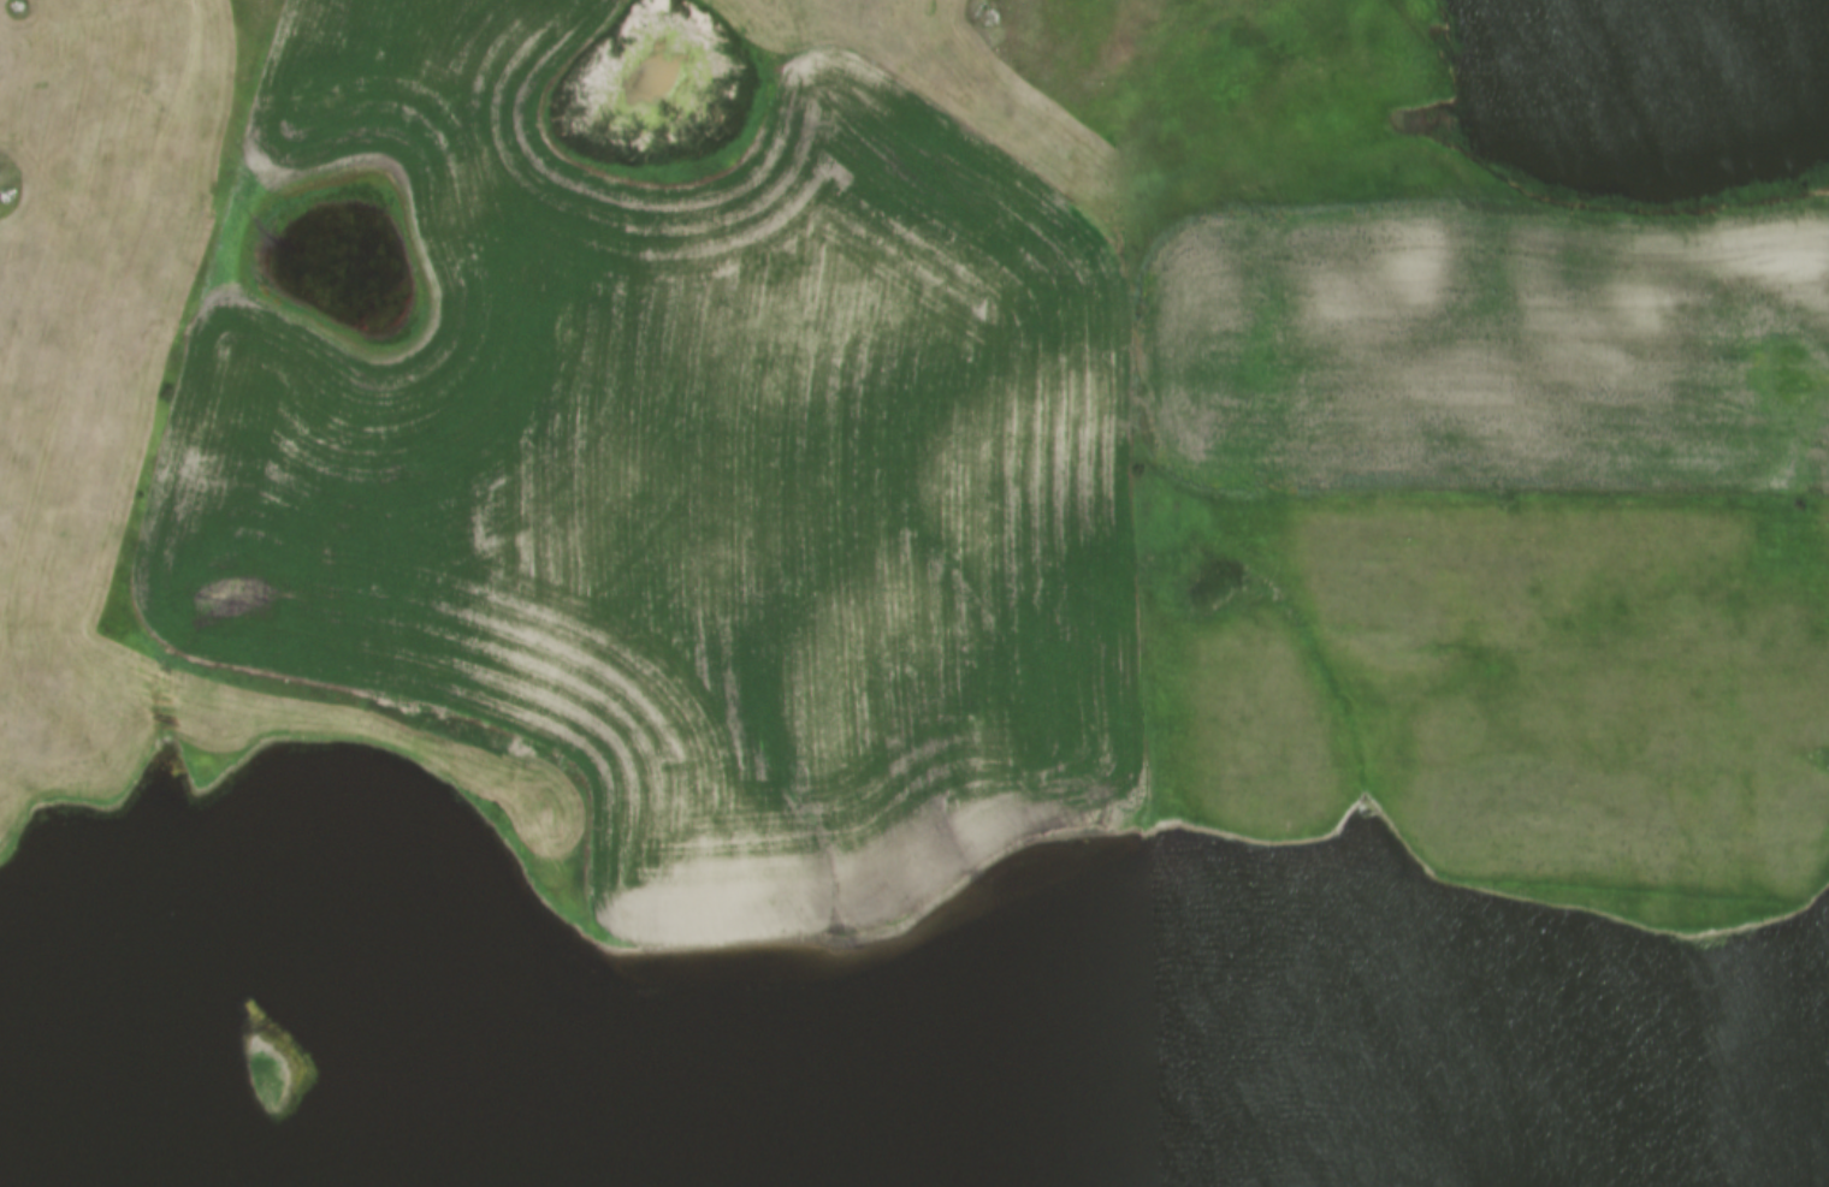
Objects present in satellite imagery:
road: (1627, 124)

